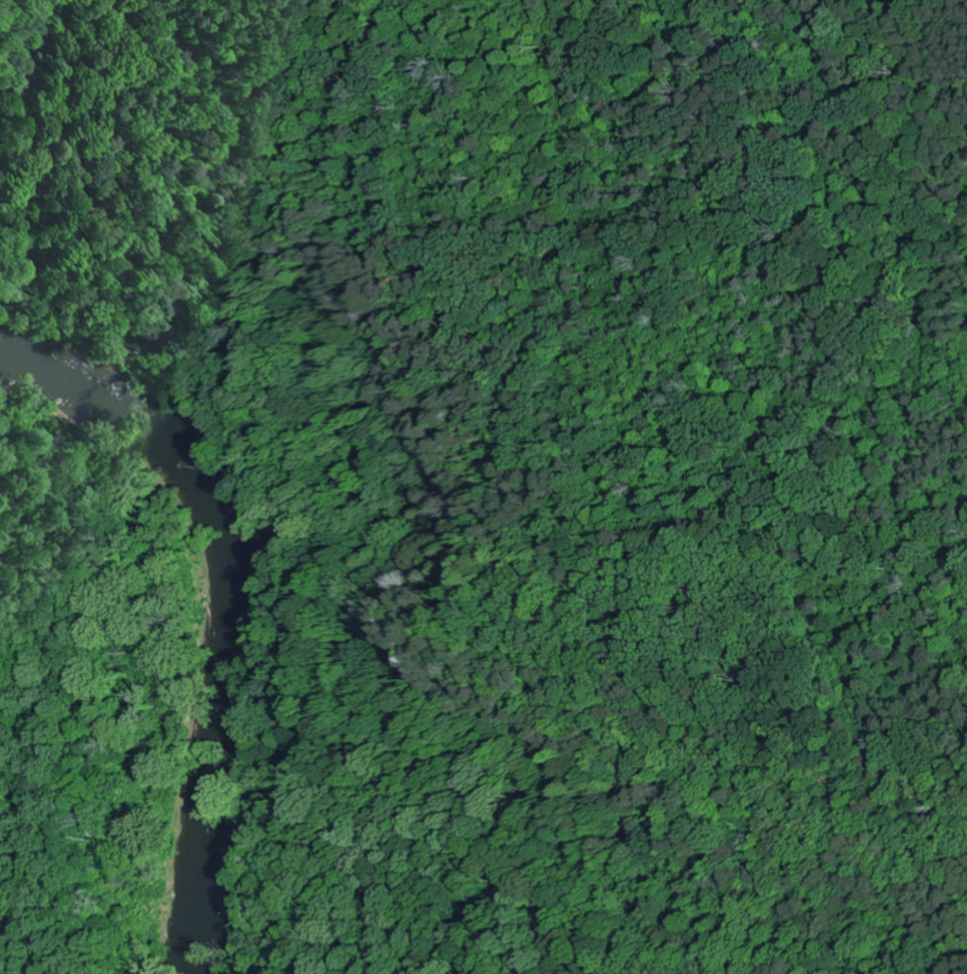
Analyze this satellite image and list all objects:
river: (222, 612)

